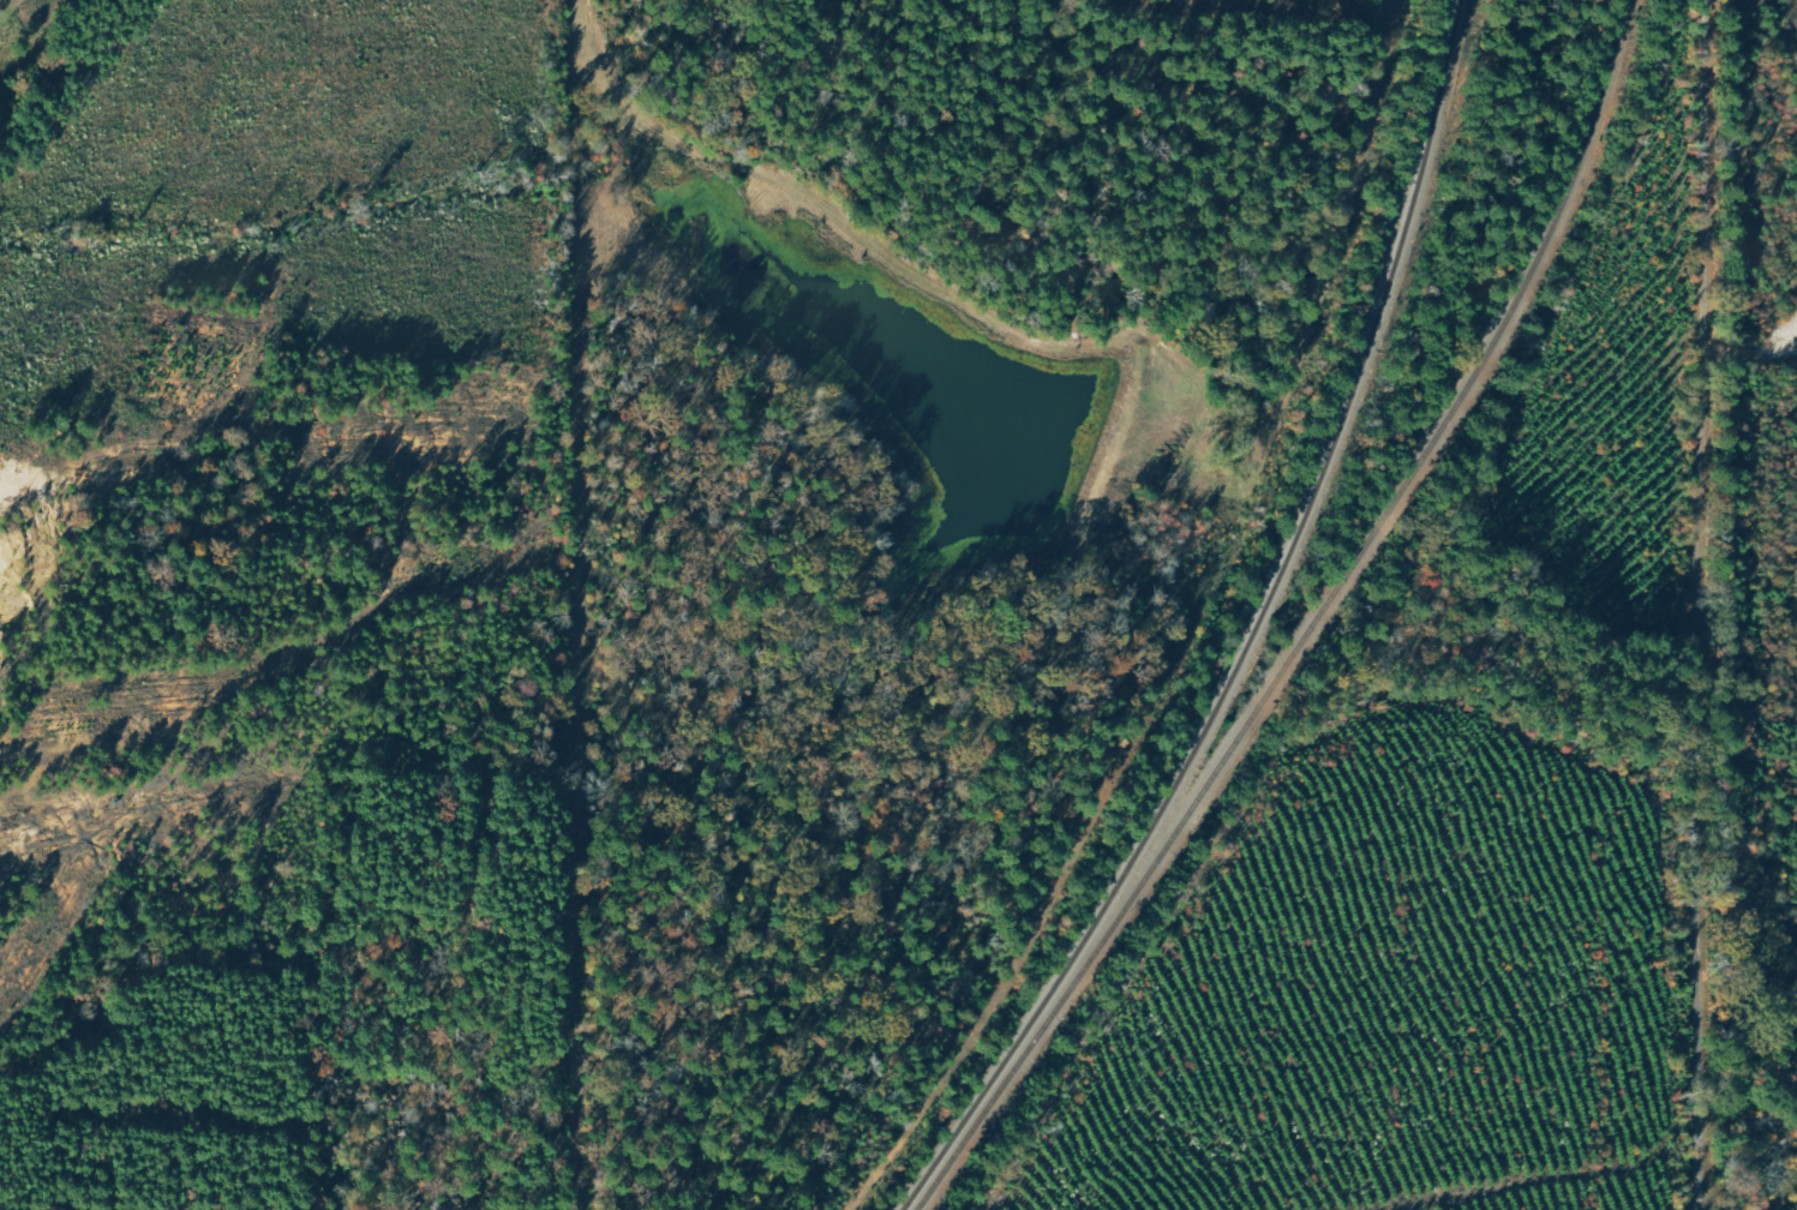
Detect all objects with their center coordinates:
building: (1, 1)
road: (1687, 605)
railway: (1318, 623)
railway: (1254, 634)

